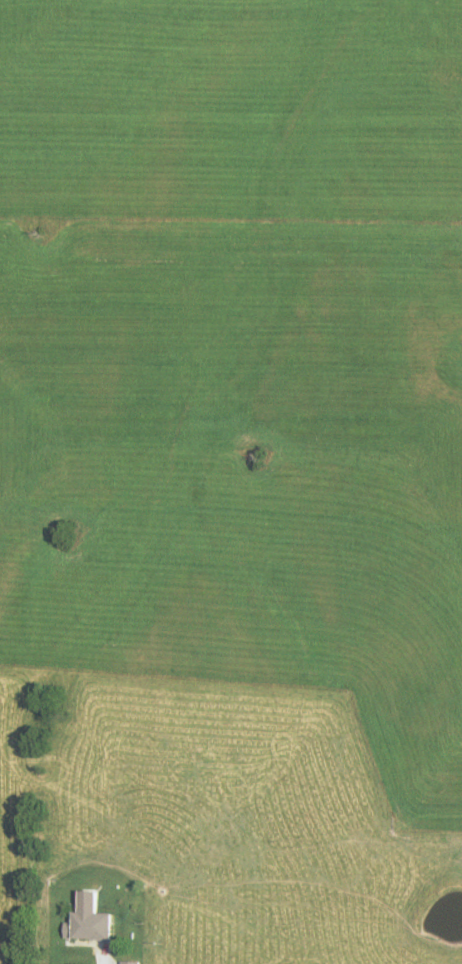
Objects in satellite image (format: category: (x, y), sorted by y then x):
building: (84, 919)
road: (101, 955)
building: (126, 962)

